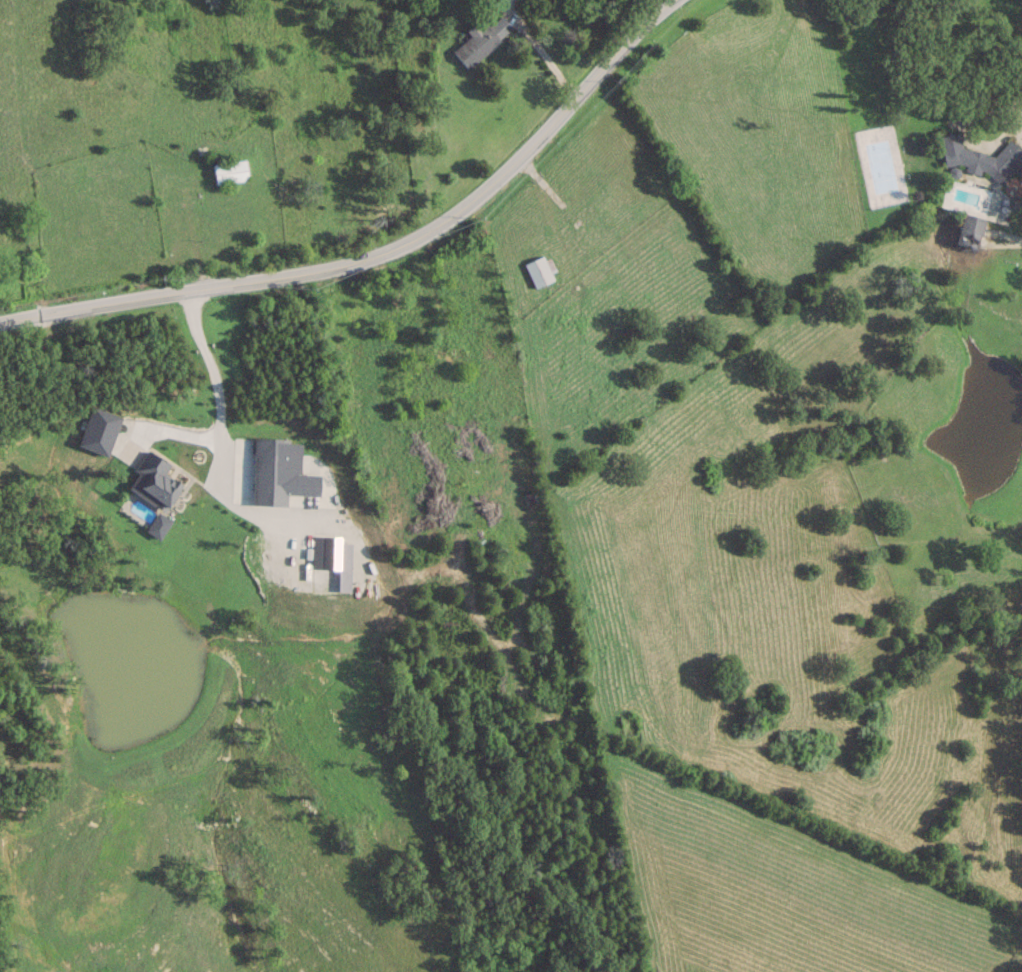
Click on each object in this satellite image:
road: (638, 30)
building: (481, 40)
road: (546, 55)
building: (981, 158)
building: (228, 172)
building: (967, 231)
road: (338, 265)
building: (536, 270)
road: (224, 424)

